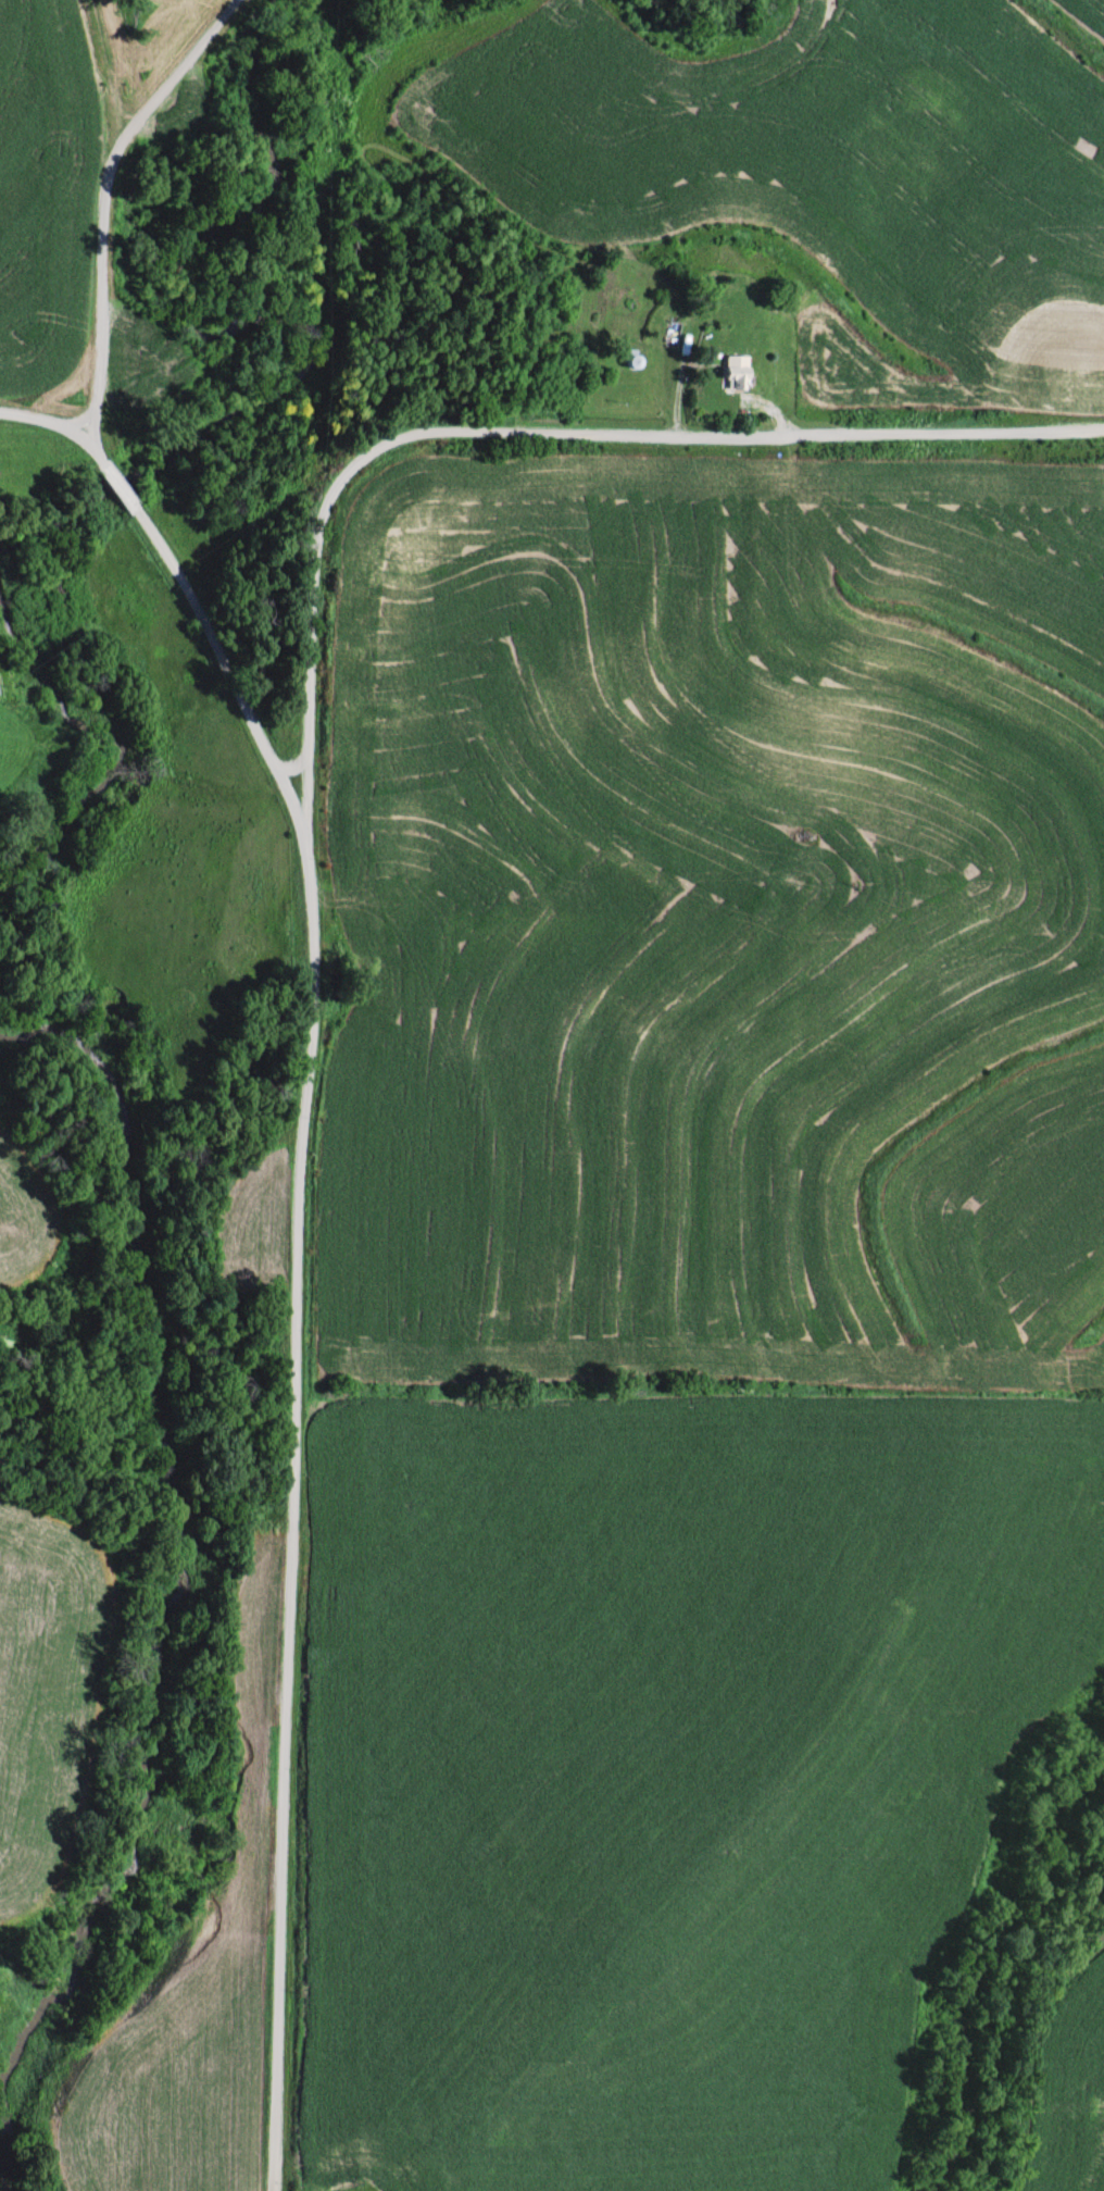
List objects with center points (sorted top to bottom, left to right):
road: (99, 197)
building: (729, 368)
road: (43, 414)
road: (729, 430)
road: (92, 448)
road: (116, 483)
road: (308, 628)
road: (290, 760)
road: (290, 1327)

